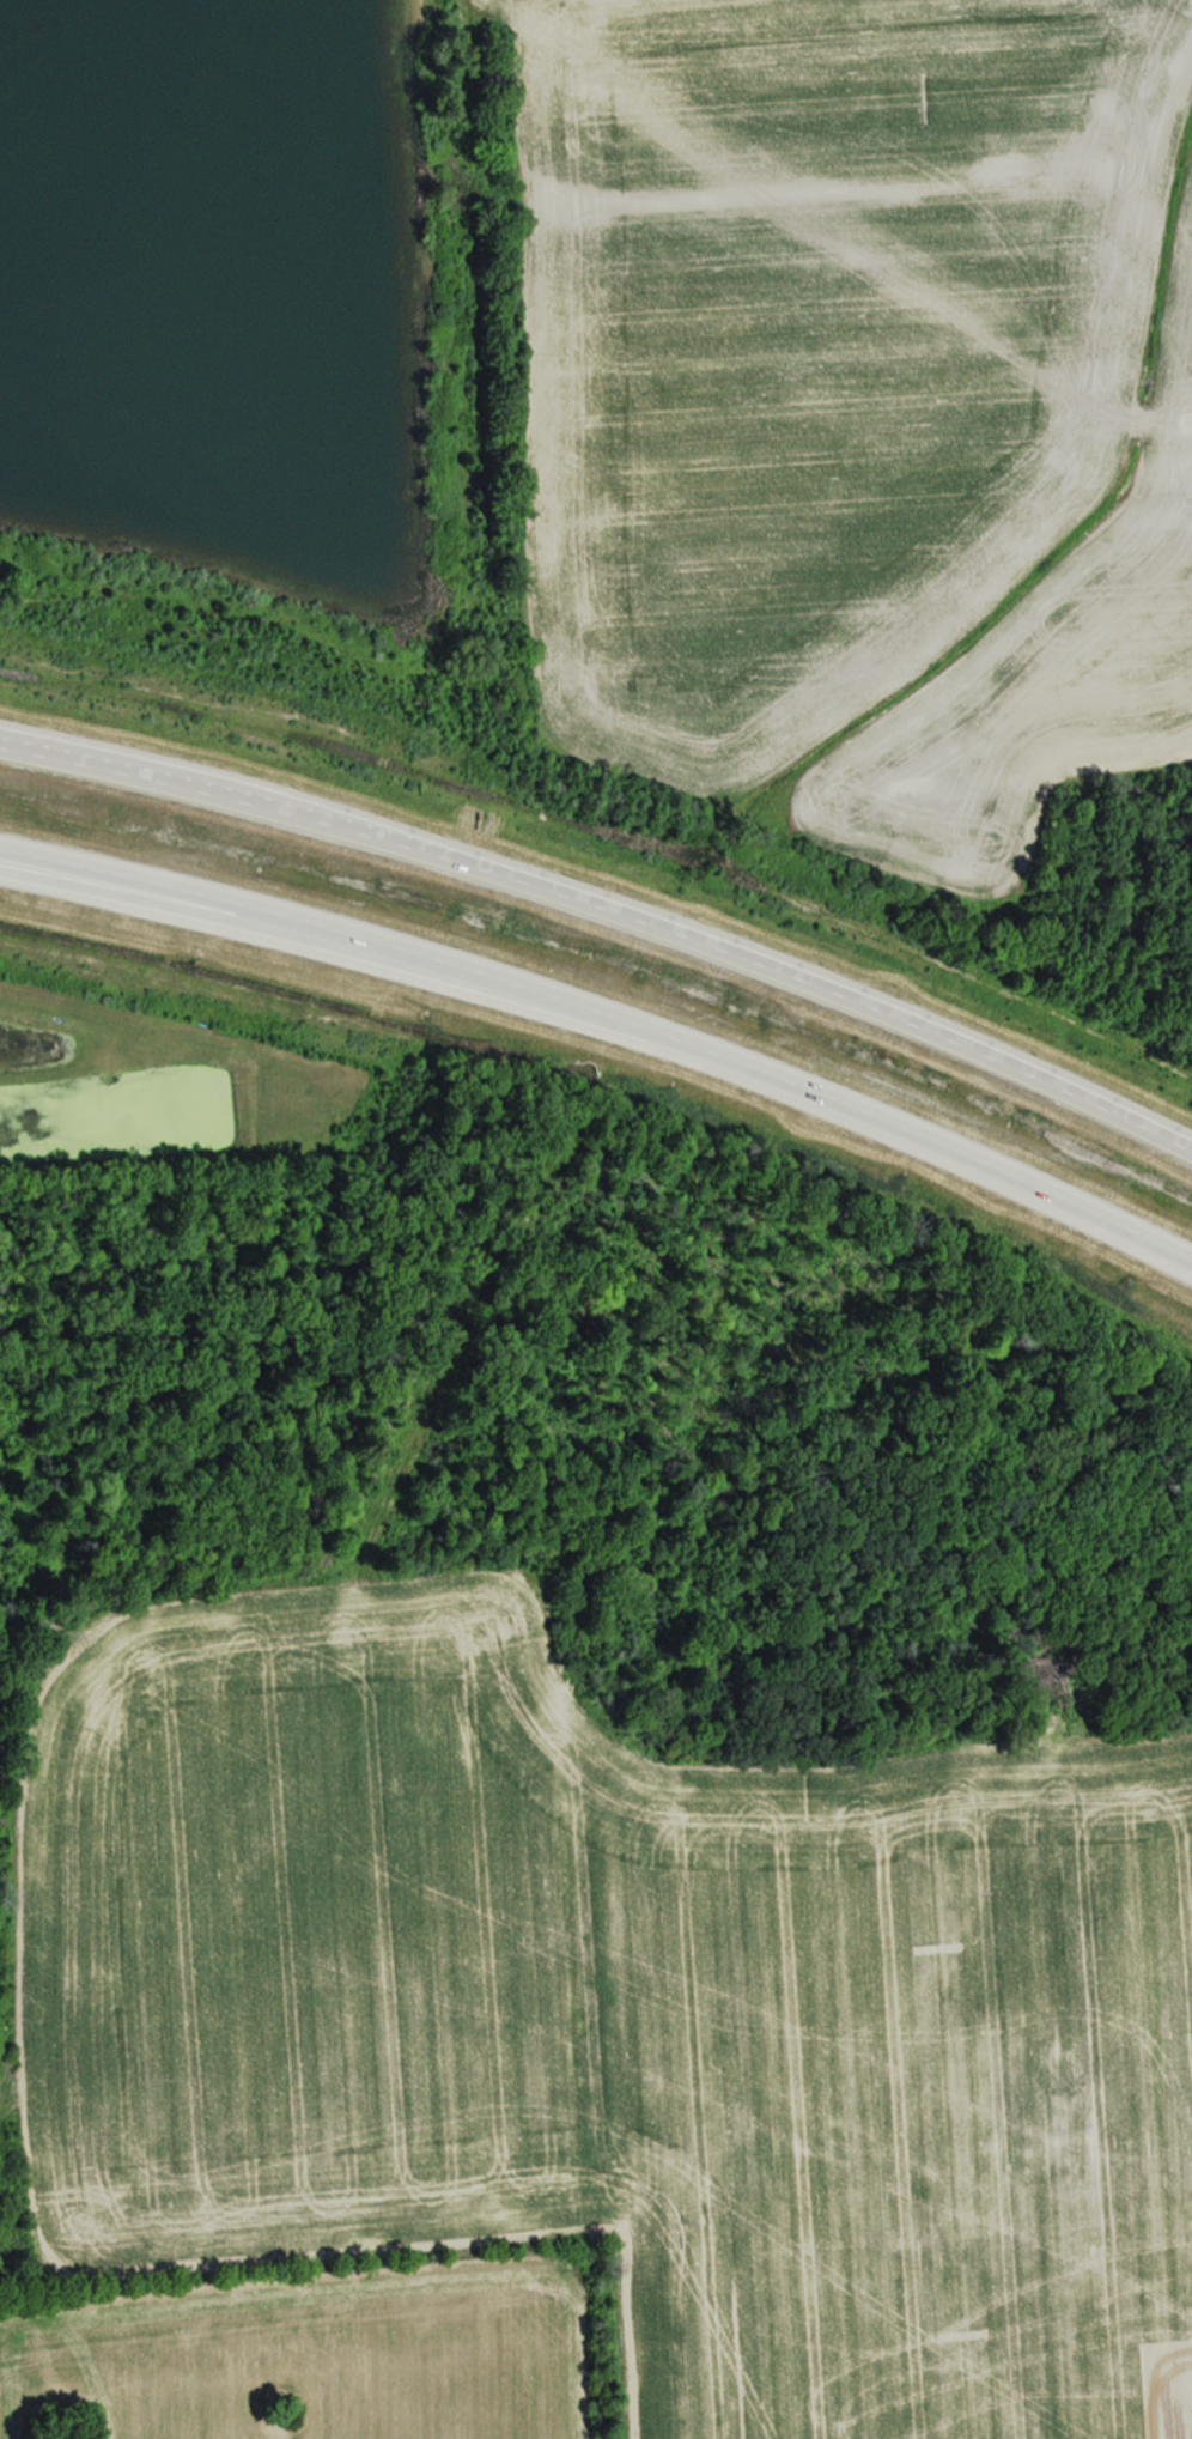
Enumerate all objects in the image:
road: (95, 876)
road: (608, 914)
road: (610, 1017)

